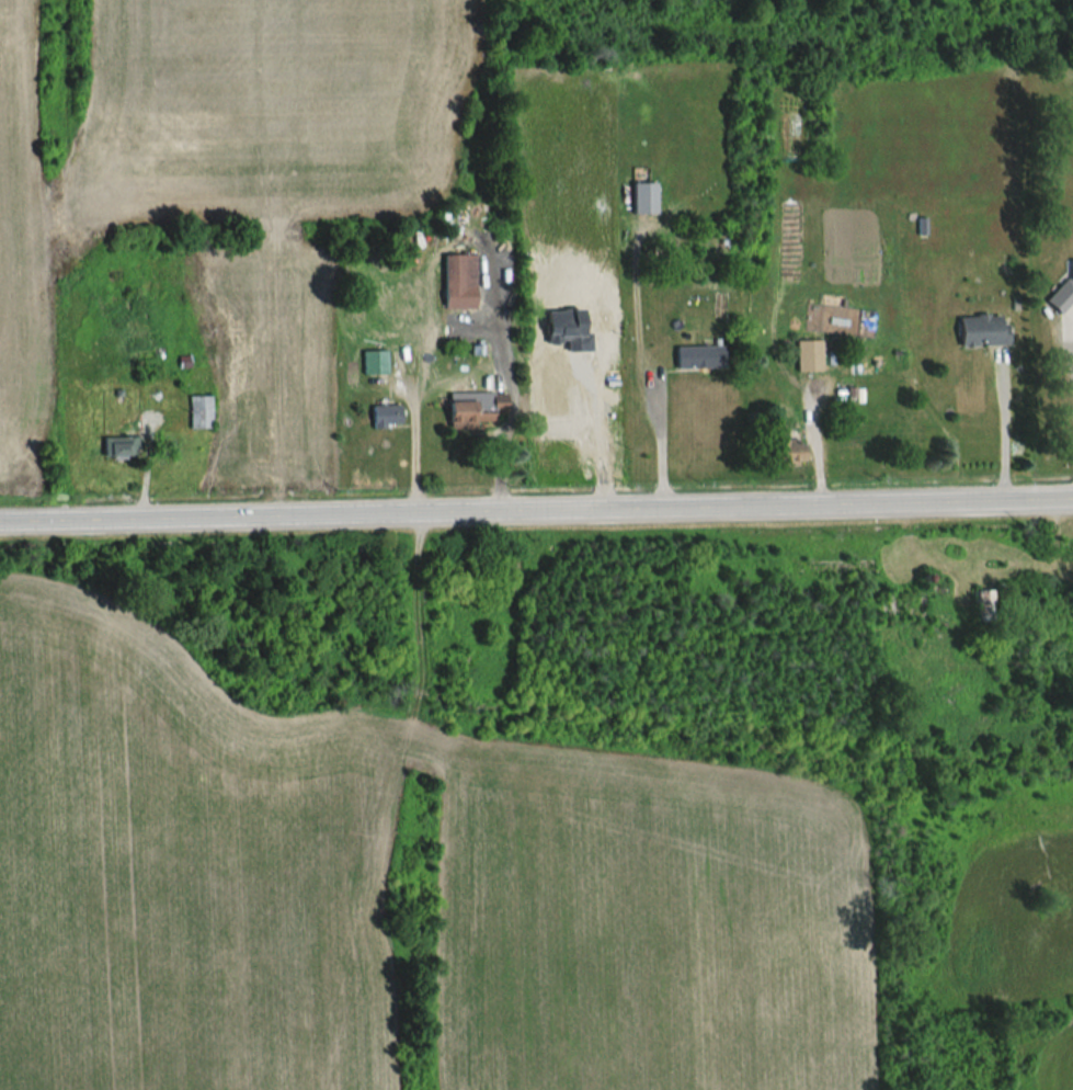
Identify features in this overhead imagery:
crop: (216, 147)
crop: (626, 275)
building: (458, 282)
building: (1062, 292)
building: (981, 331)
building: (808, 357)
building: (698, 359)
building: (374, 363)
road: (512, 409)
building: (472, 410)
building: (197, 412)
building: (385, 417)
road: (1003, 427)
road: (600, 439)
road: (660, 444)
building: (116, 449)
building: (787, 454)
road: (536, 512)
building: (984, 608)
crop: (184, 866)
crop: (1015, 920)
crop: (648, 923)
crop: (1054, 1065)

